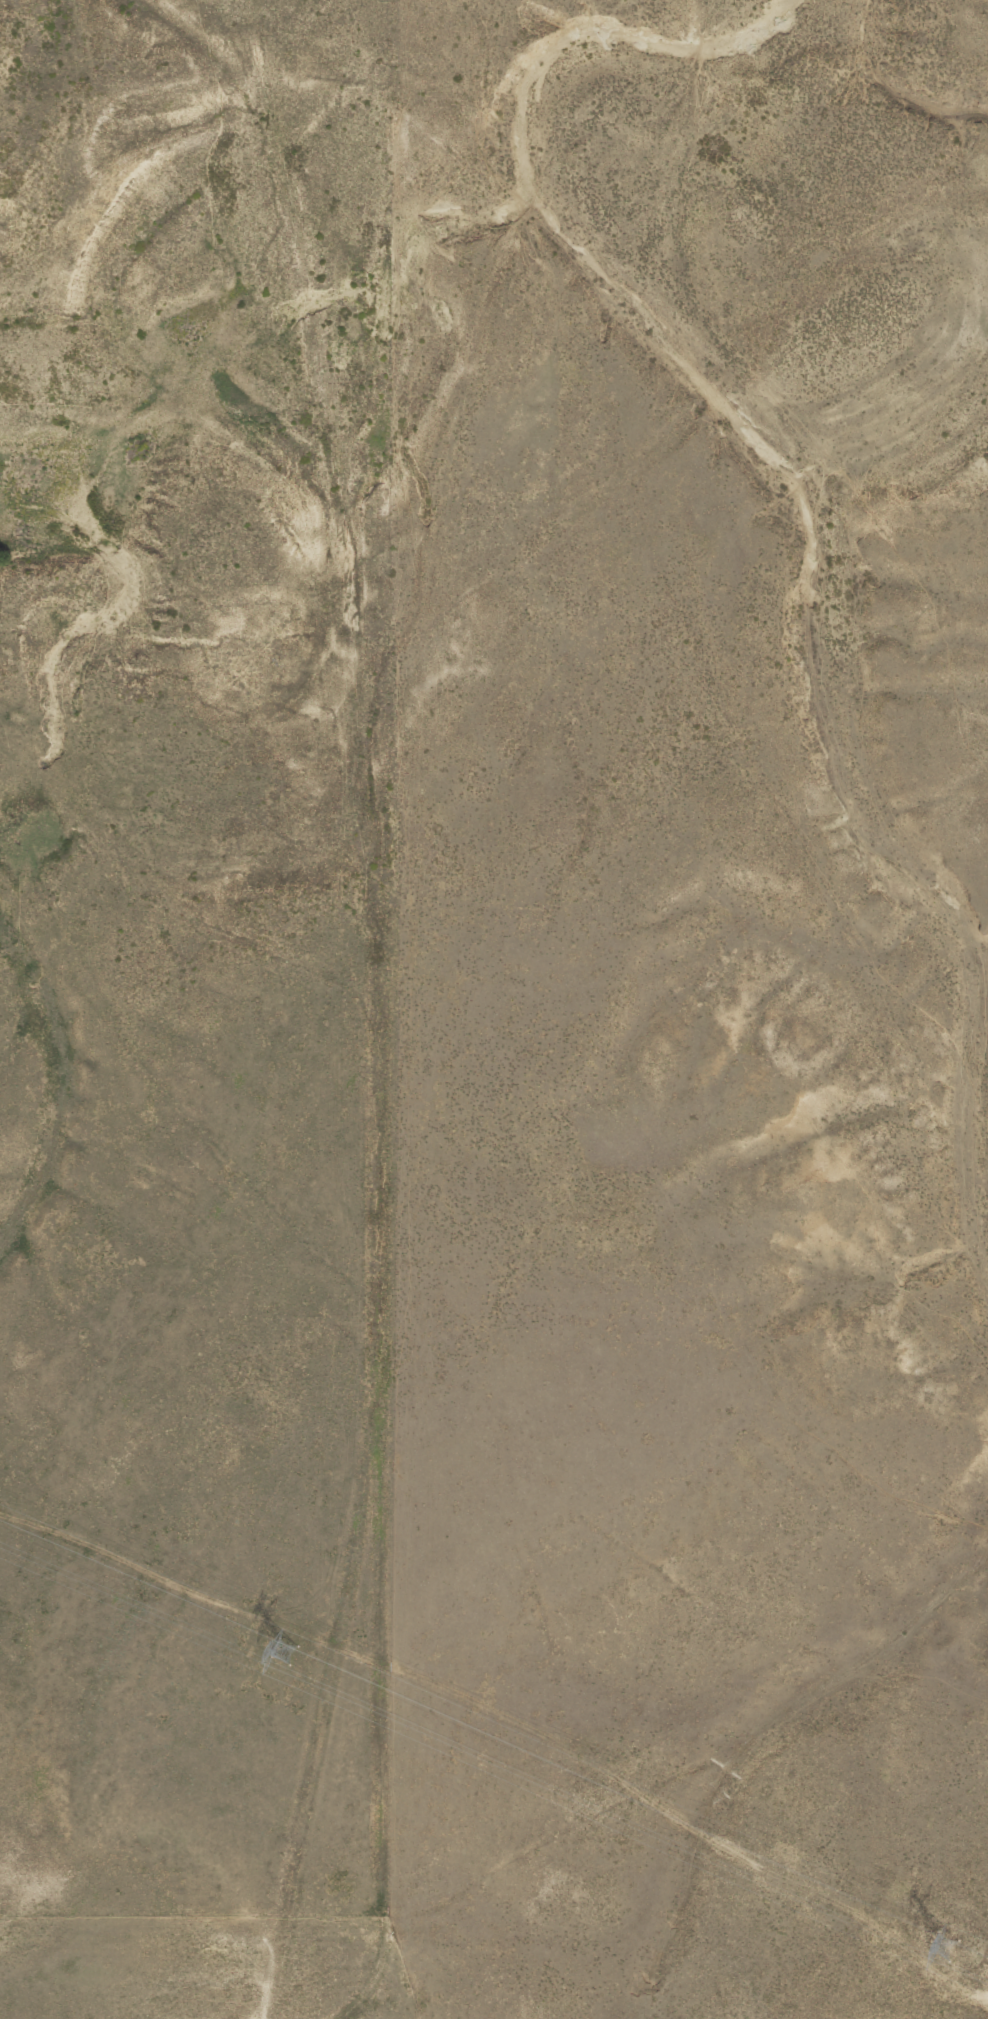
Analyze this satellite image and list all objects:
road: (485, 367)
road: (357, 1033)
power tower: (285, 1653)
road: (673, 1814)
power tower: (943, 1948)

